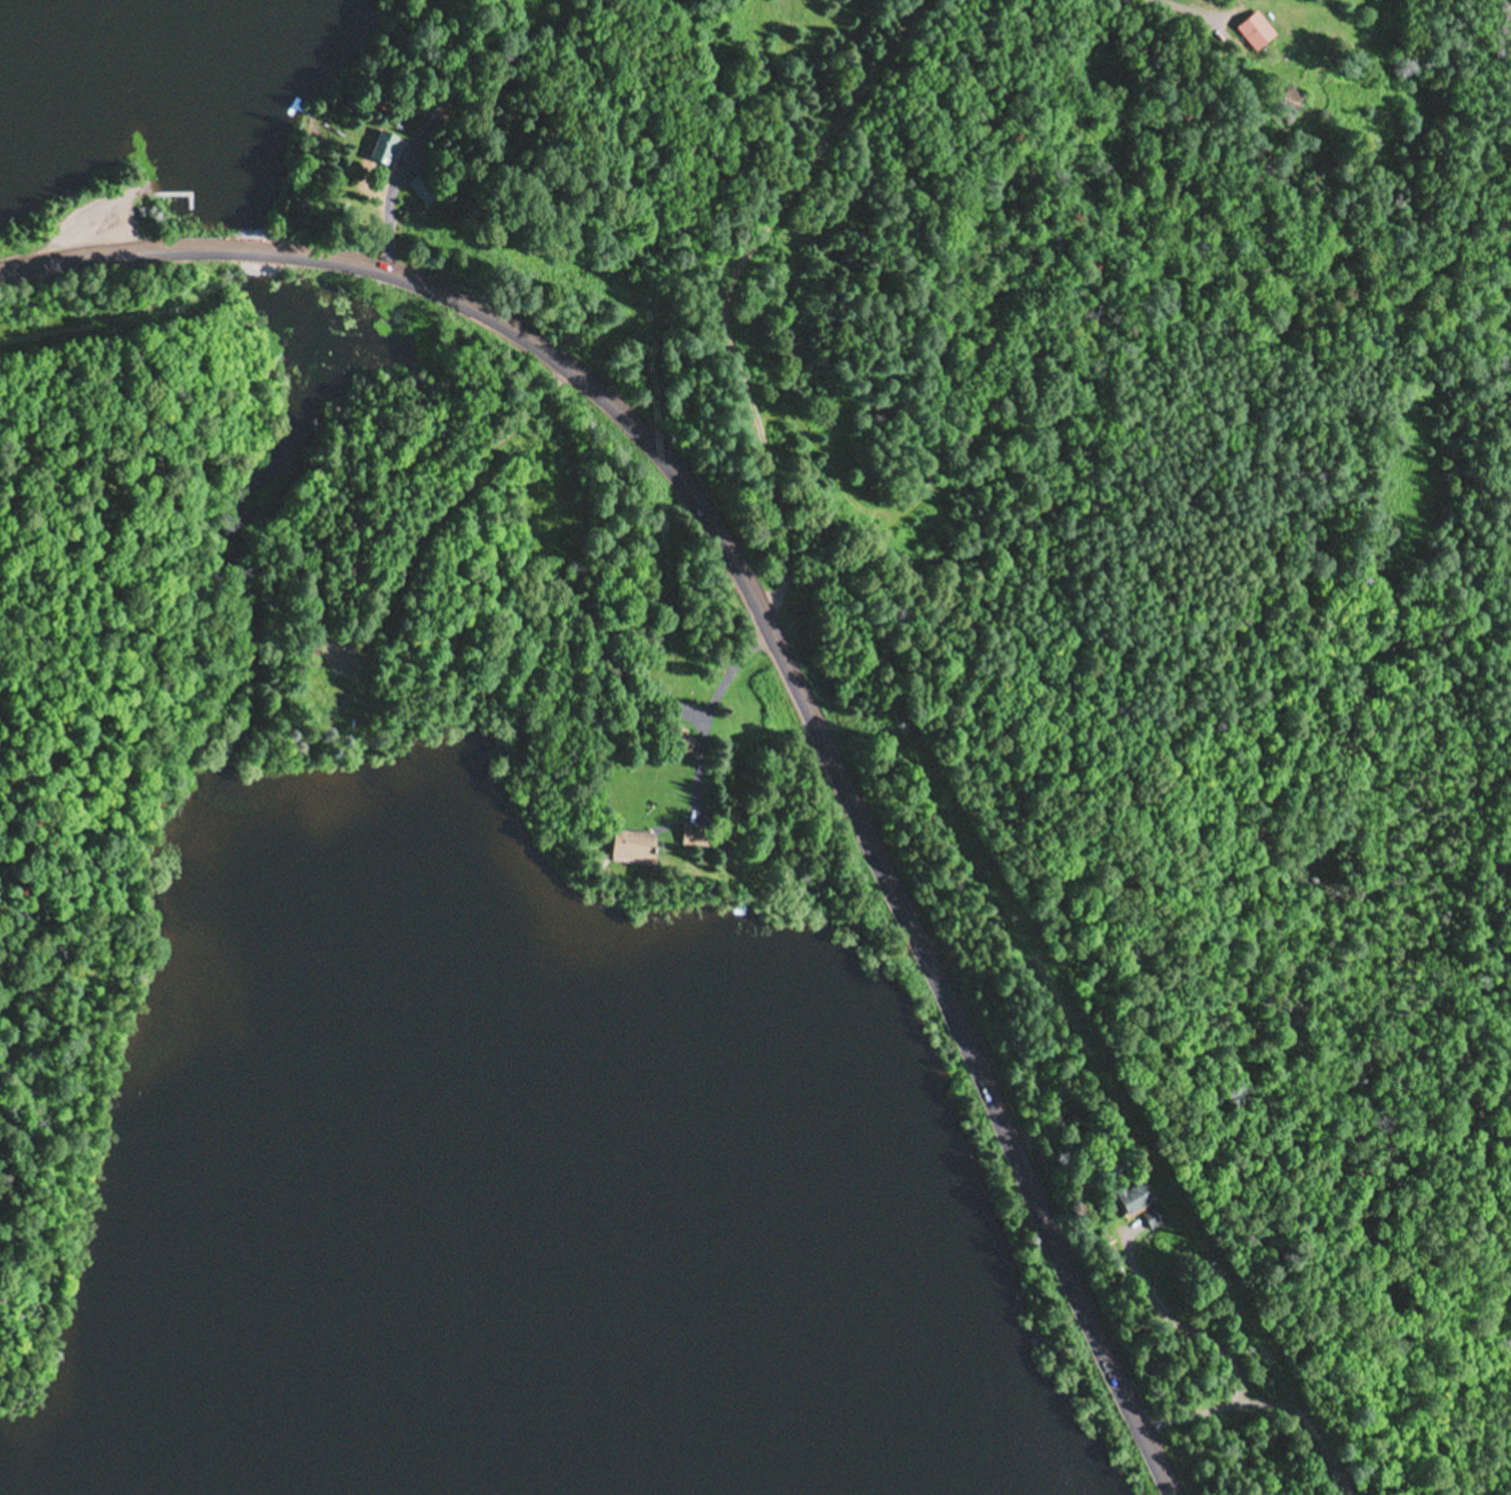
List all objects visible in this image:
road: (449, 509)
road: (776, 636)

